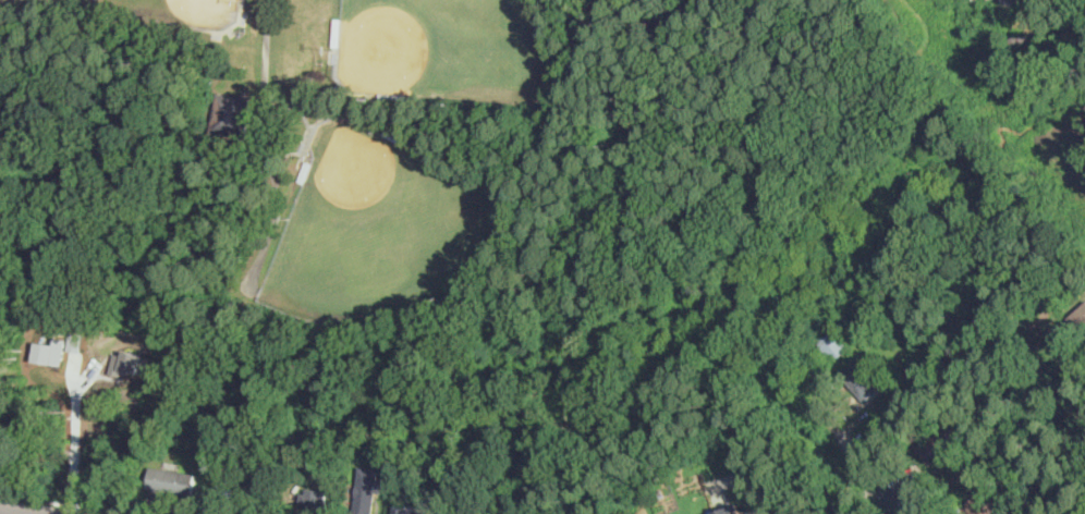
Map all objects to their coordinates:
building: (975, 0)
park: (173, 11)
building: (338, 34)
building: (1014, 37)
park: (449, 48)
road: (267, 68)
building: (394, 98)
building: (231, 115)
building: (391, 135)
park: (199, 144)
building: (304, 173)
park: (385, 233)
park: (513, 233)
building: (1080, 318)
building: (1051, 333)
building: (832, 344)
building: (1065, 348)
building: (49, 351)
building: (126, 364)
road: (87, 376)
building: (861, 382)
road: (75, 405)
building: (894, 407)
road: (890, 418)
building: (940, 443)
building: (744, 458)
road: (74, 462)
building: (321, 466)
road: (877, 481)
building: (172, 482)
building: (230, 484)
building: (1015, 487)
building: (268, 488)
building: (367, 489)
road: (74, 492)
building: (661, 492)
building: (315, 500)
road: (848, 502)
road: (63, 503)
building: (980, 505)
building: (409, 510)
road: (768, 510)
road: (15, 511)
building: (729, 511)
building: (1032, 511)

